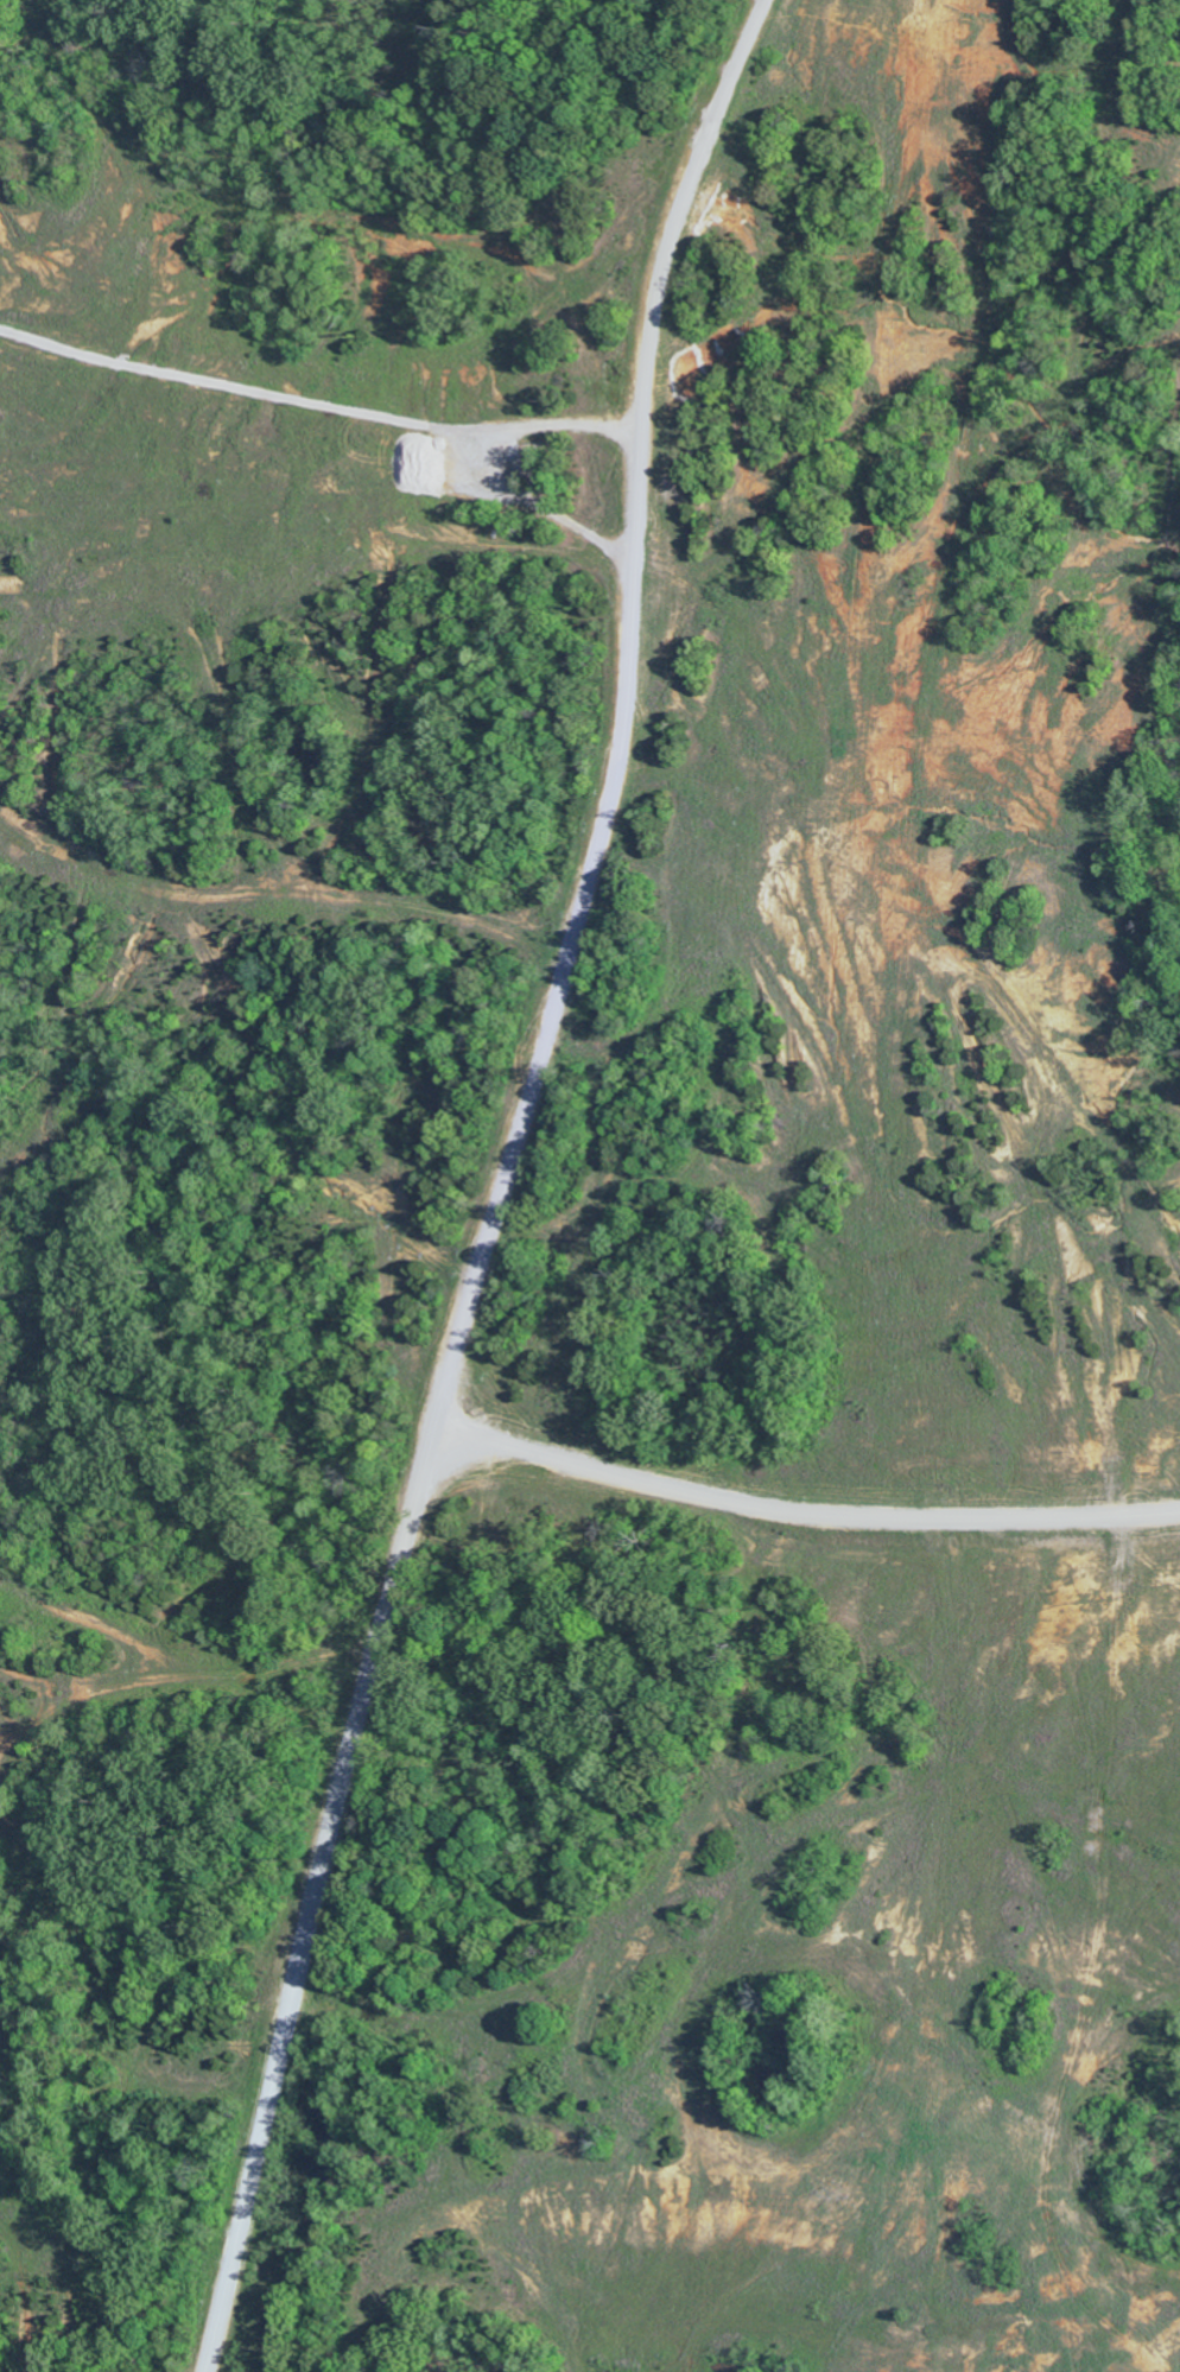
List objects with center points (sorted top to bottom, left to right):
road: (506, 468)
road: (503, 1185)
road: (804, 1510)

